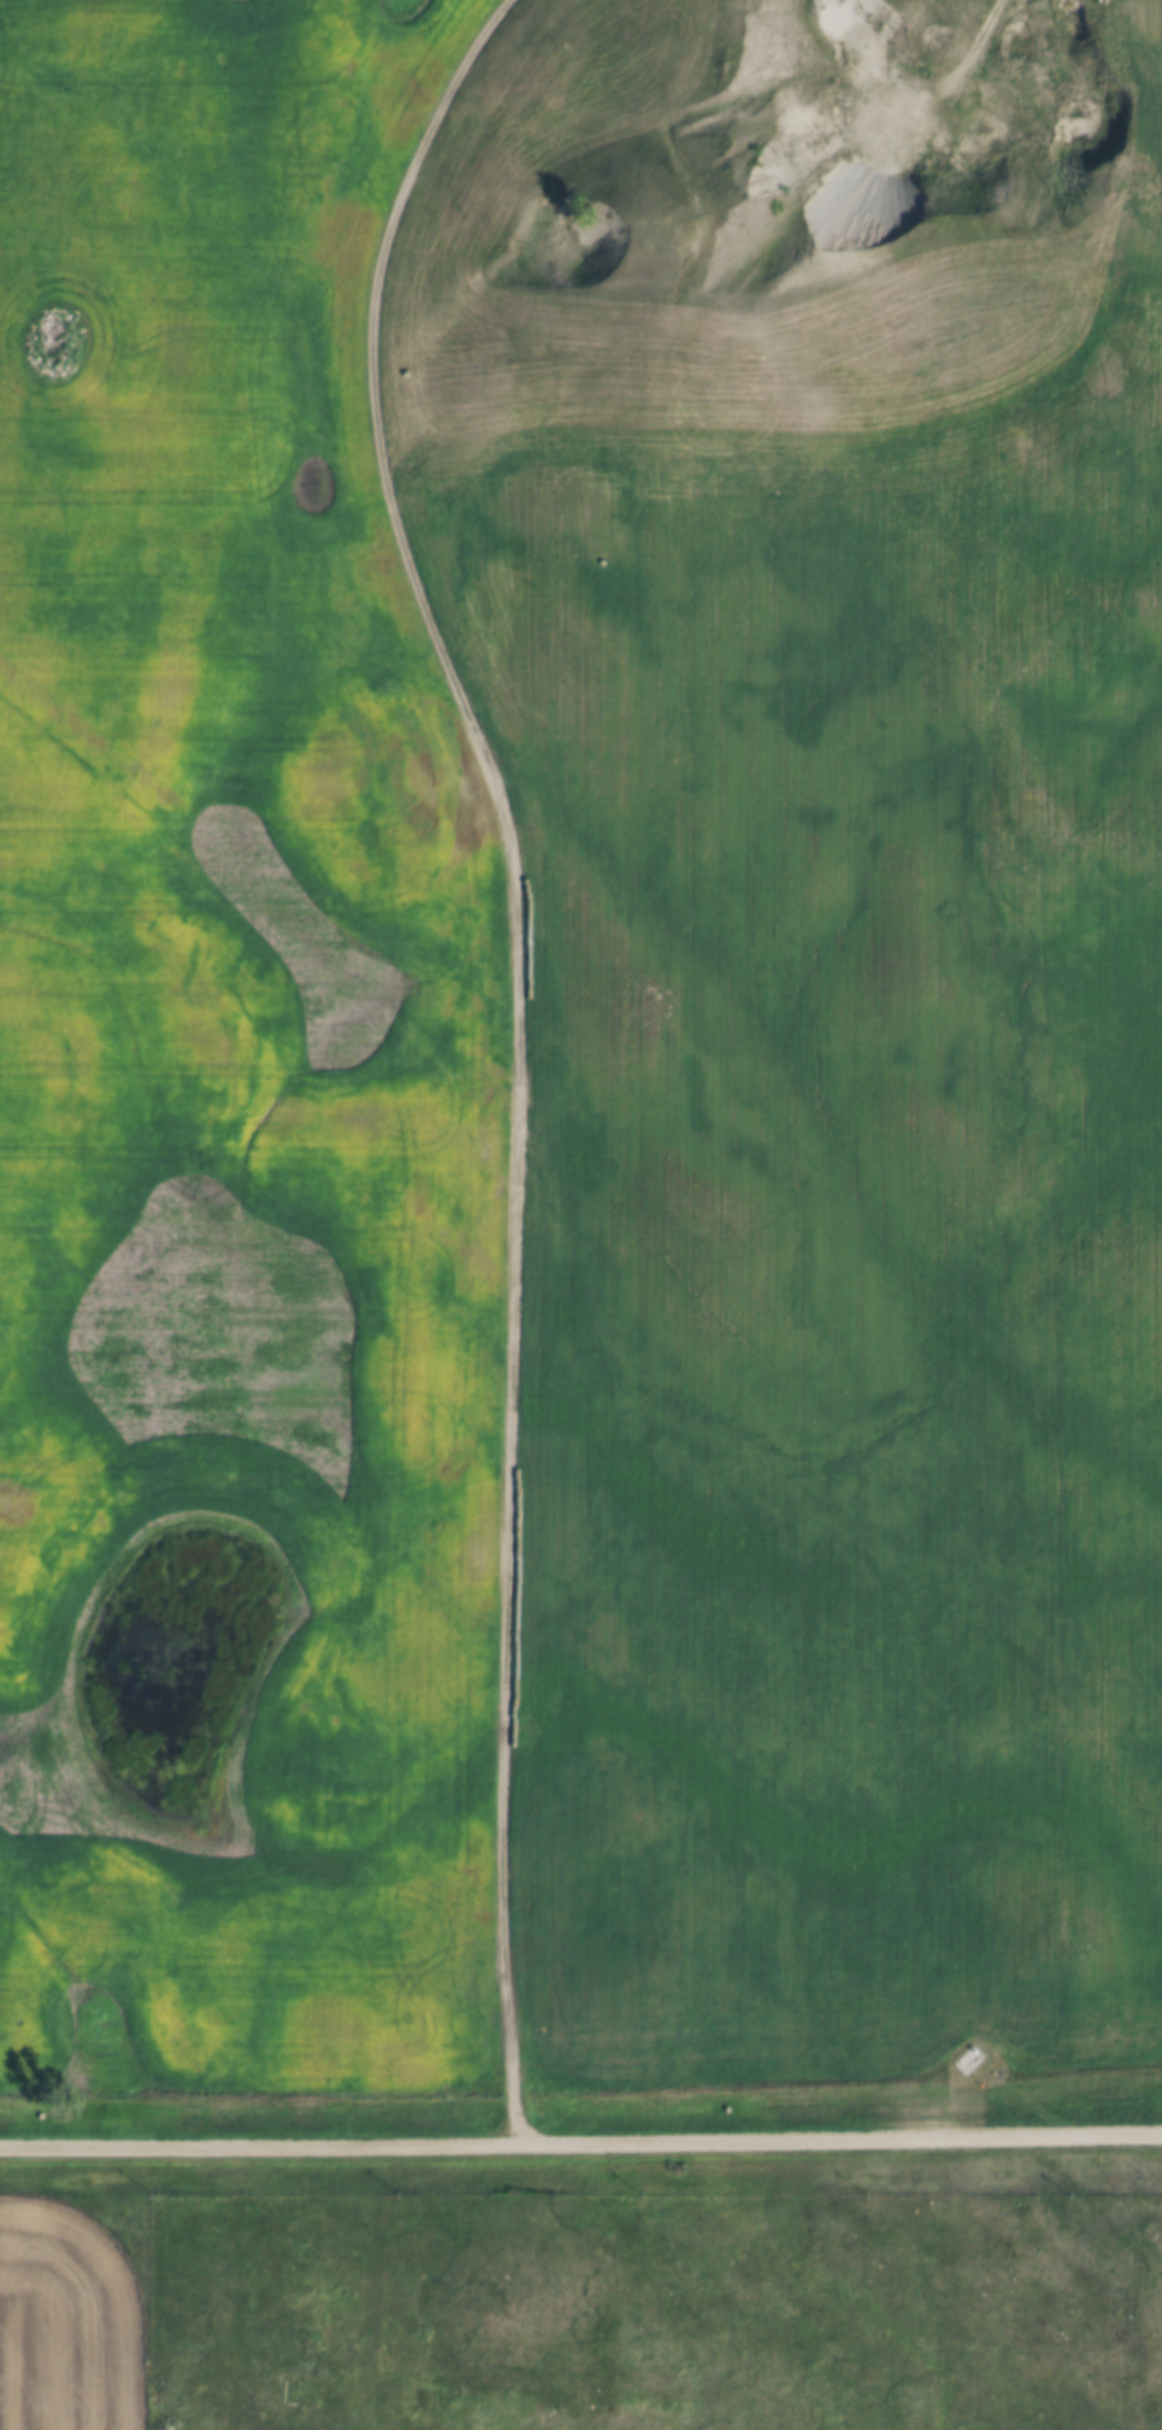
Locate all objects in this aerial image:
road: (931, 88)
quarry: (809, 164)
road: (518, 1042)
road: (580, 2136)

